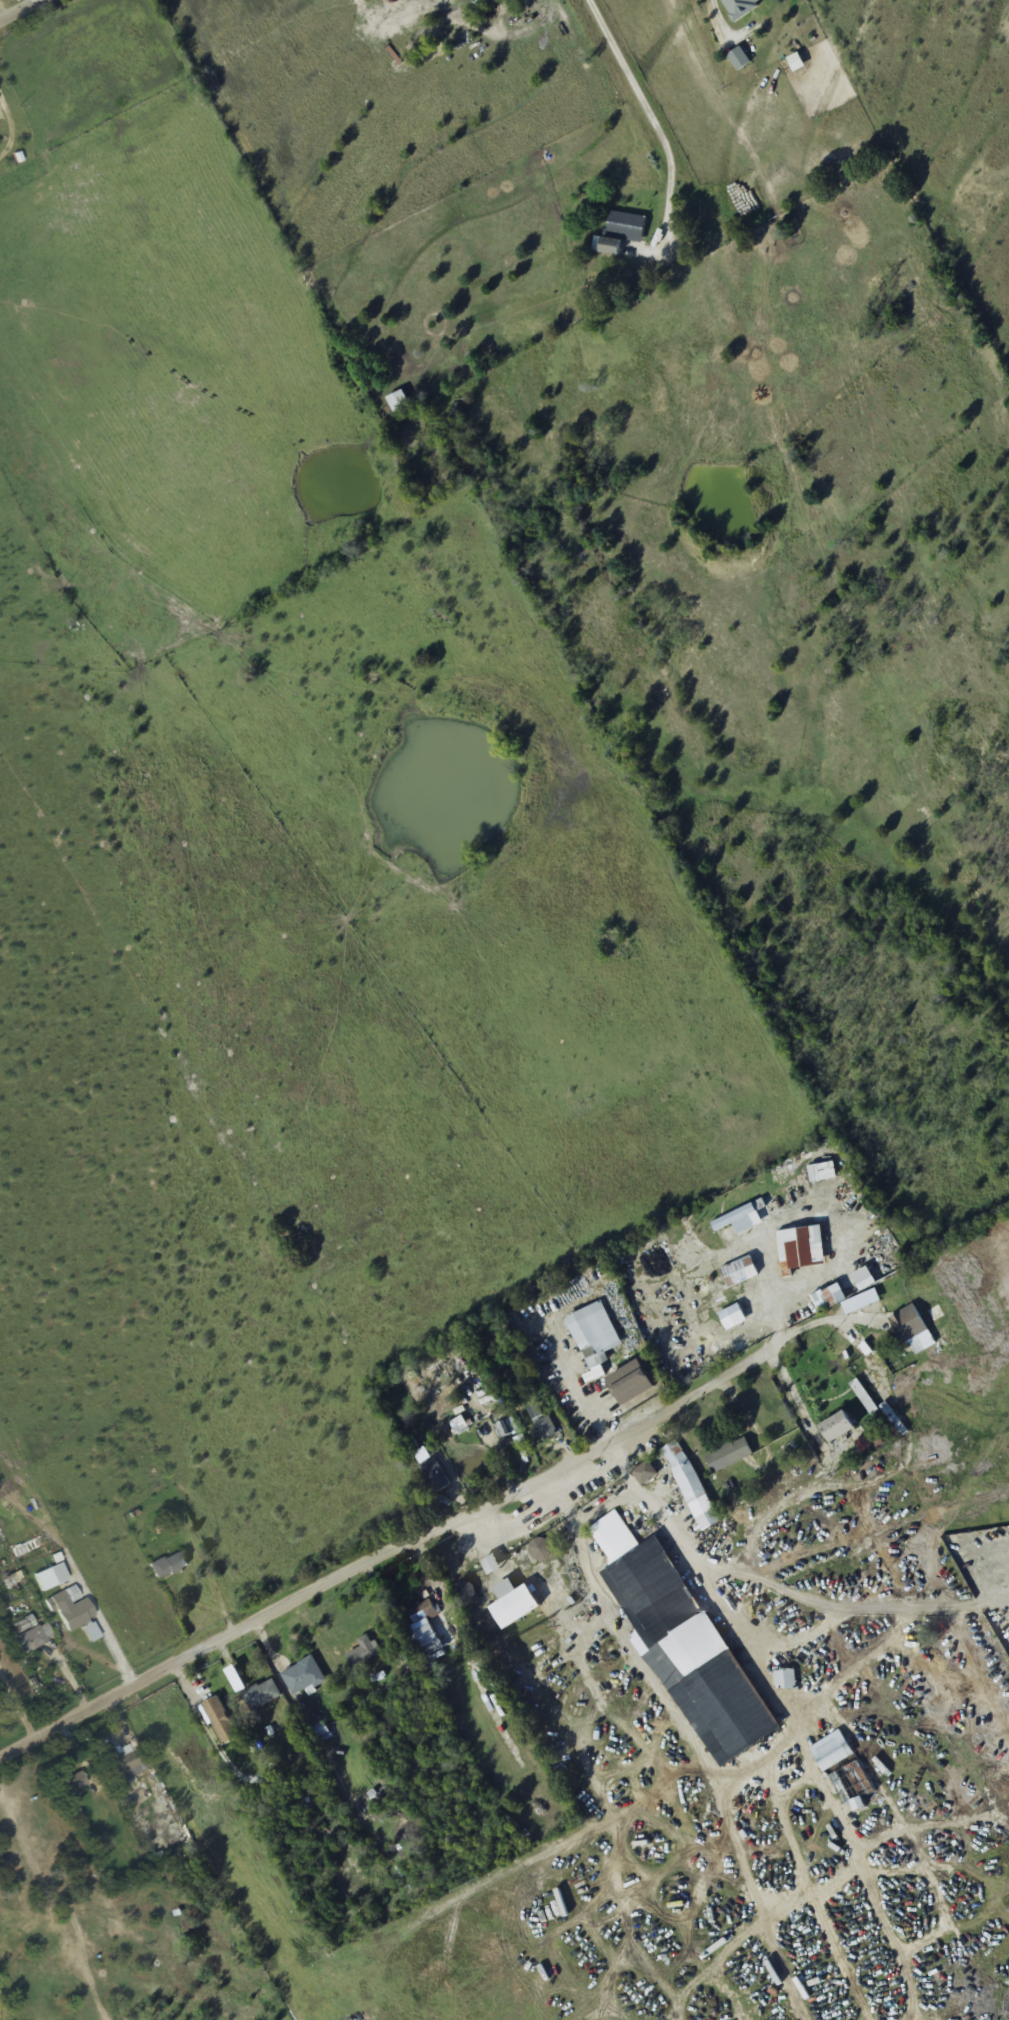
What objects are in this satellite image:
building: (741, 7)
road: (18, 9)
road: (195, 203)
building: (620, 232)
building: (823, 1172)
building: (739, 1219)
building: (795, 1250)
building: (739, 1272)
building: (843, 1291)
building: (734, 1316)
building: (912, 1331)
building: (593, 1338)
building: (631, 1384)
building: (867, 1395)
building: (544, 1425)
building: (837, 1428)
building: (499, 1431)
building: (728, 1456)
building: (644, 1473)
building: (439, 1480)
building: (690, 1486)
road: (387, 1558)
building: (168, 1565)
building: (464, 1592)
building: (514, 1603)
building: (422, 1612)
building: (76, 1615)
building: (28, 1637)
building: (683, 1643)
building: (362, 1652)
building: (303, 1676)
building: (785, 1678)
building: (262, 1694)
building: (221, 1721)
building: (832, 1754)
building: (125, 1762)
building: (70, 1784)
road: (138, 1880)

